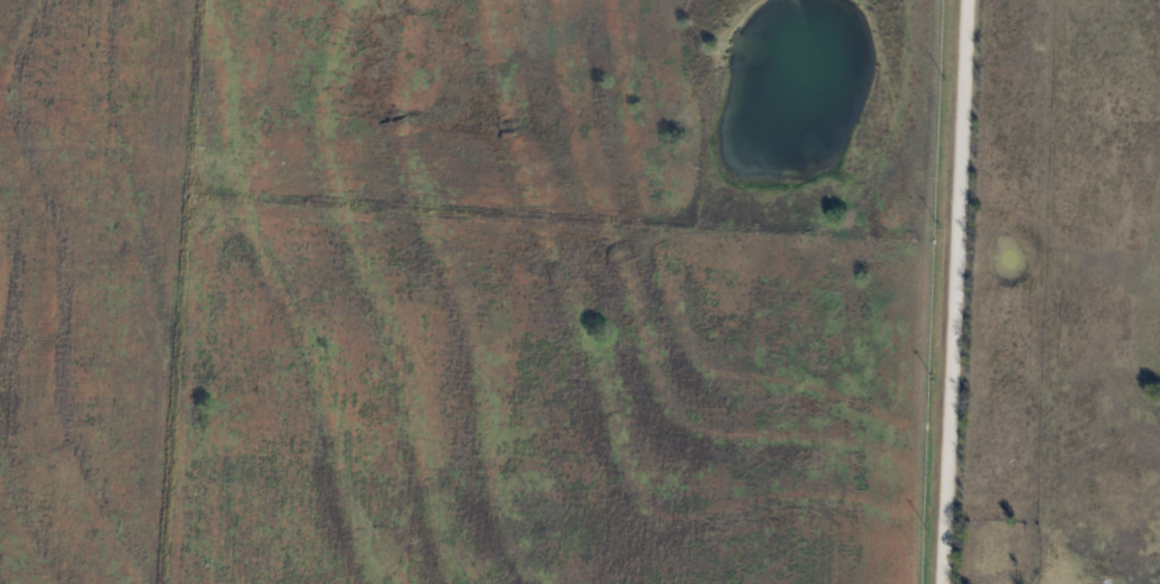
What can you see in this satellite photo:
road: (952, 291)

